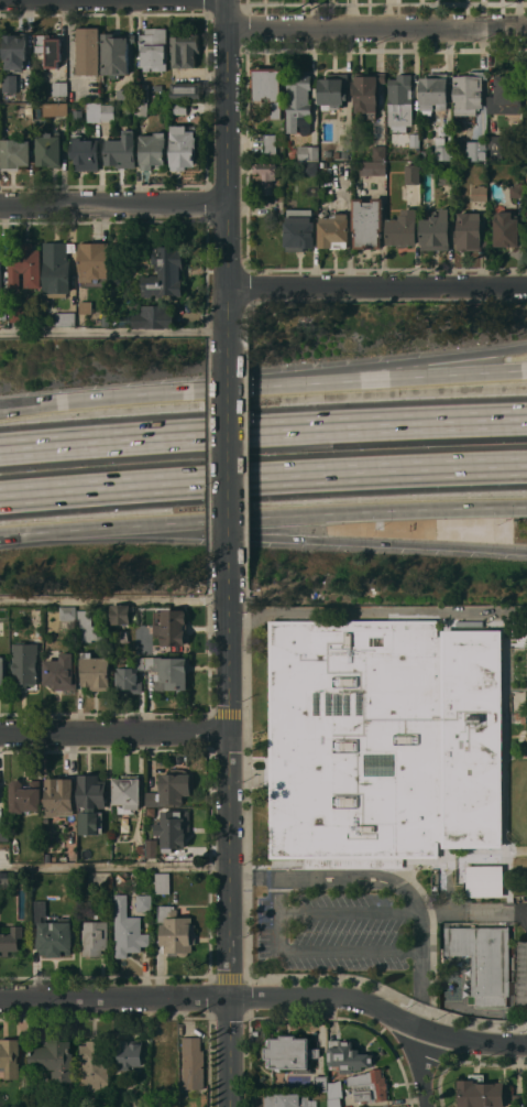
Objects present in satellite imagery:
road: (377, 26)
building: (50, 48)
building: (153, 48)
building: (185, 50)
building: (14, 51)
building: (88, 51)
building: (114, 55)
building: (10, 84)
building: (267, 87)
building: (59, 88)
building: (186, 90)
building: (366, 90)
building: (333, 91)
building: (142, 93)
building: (433, 93)
building: (469, 93)
building: (124, 94)
building: (506, 95)
building: (399, 100)
building: (298, 104)
building: (179, 107)
building: (141, 108)
building: (55, 109)
building: (29, 110)
building: (94, 111)
building: (108, 112)
building: (40, 120)
building: (414, 140)
building: (182, 144)
building: (496, 144)
building: (270, 146)
building: (48, 149)
building: (441, 149)
building: (121, 150)
building: (152, 150)
building: (476, 150)
building: (14, 153)
building: (85, 153)
building: (293, 153)
building: (308, 153)
building: (380, 153)
building: (422, 153)
building: (459, 153)
building: (336, 154)
building: (344, 154)
road: (229, 167)
building: (309, 167)
building: (373, 167)
building: (411, 173)
building: (266, 175)
building: (446, 177)
building: (516, 191)
building: (479, 193)
road: (114, 205)
road: (248, 205)
building: (367, 223)
building: (299, 229)
building: (403, 229)
building: (505, 229)
building: (333, 231)
building: (436, 231)
building: (470, 232)
building: (92, 261)
building: (24, 265)
building: (0, 268)
building: (56, 268)
building: (165, 272)
road: (378, 285)
building: (84, 307)
building: (3, 313)
building: (17, 314)
building: (154, 316)
building: (65, 318)
road: (373, 367)
road: (373, 379)
road: (151, 393)
road: (42, 402)
road: (42, 405)
road: (263, 433)
road: (230, 447)
road: (263, 481)
road: (308, 517)
road: (62, 532)
road: (17, 535)
road: (17, 536)
road: (308, 540)
road: (116, 599)
road: (378, 610)
building: (67, 612)
building: (121, 615)
building: (172, 627)
building: (89, 628)
building: (523, 631)
building: (23, 664)
building: (2, 672)
building: (61, 672)
building: (95, 672)
building: (154, 674)
road: (114, 734)
building: (386, 740)
building: (174, 788)
building: (128, 791)
building: (24, 796)
building: (58, 796)
building: (152, 799)
building: (90, 803)
building: (173, 828)
road: (230, 832)
building: (4, 833)
building: (152, 848)
building: (140, 849)
road: (116, 864)
building: (4, 879)
building: (485, 881)
building: (162, 882)
road: (393, 882)
building: (144, 902)
building: (128, 930)
road: (276, 930)
building: (176, 931)
building: (52, 932)
building: (10, 937)
building: (95, 937)
building: (483, 961)
road: (145, 977)
road: (267, 998)
building: (292, 1052)
building: (130, 1054)
building: (163, 1055)
building: (347, 1056)
building: (9, 1057)
building: (53, 1059)
building: (191, 1062)
building: (95, 1065)
road: (424, 1070)
building: (320, 1083)
building: (370, 1086)
building: (333, 1087)
building: (480, 1092)
building: (287, 1100)
building: (518, 1100)
building: (333, 1103)
building: (67, 1106)
building: (158, 1106)

